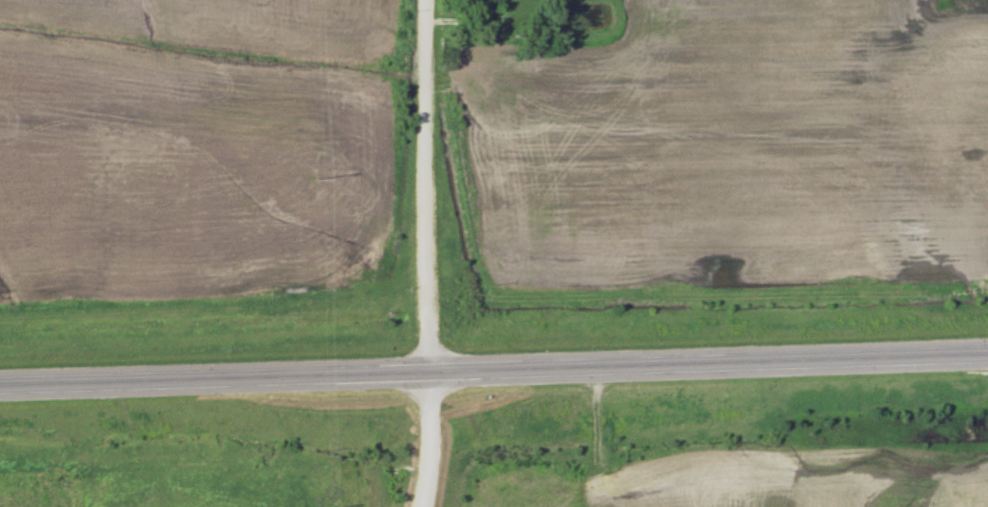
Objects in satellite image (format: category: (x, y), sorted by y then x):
road: (423, 186)
road: (494, 369)
road: (428, 440)
crop: (788, 478)

